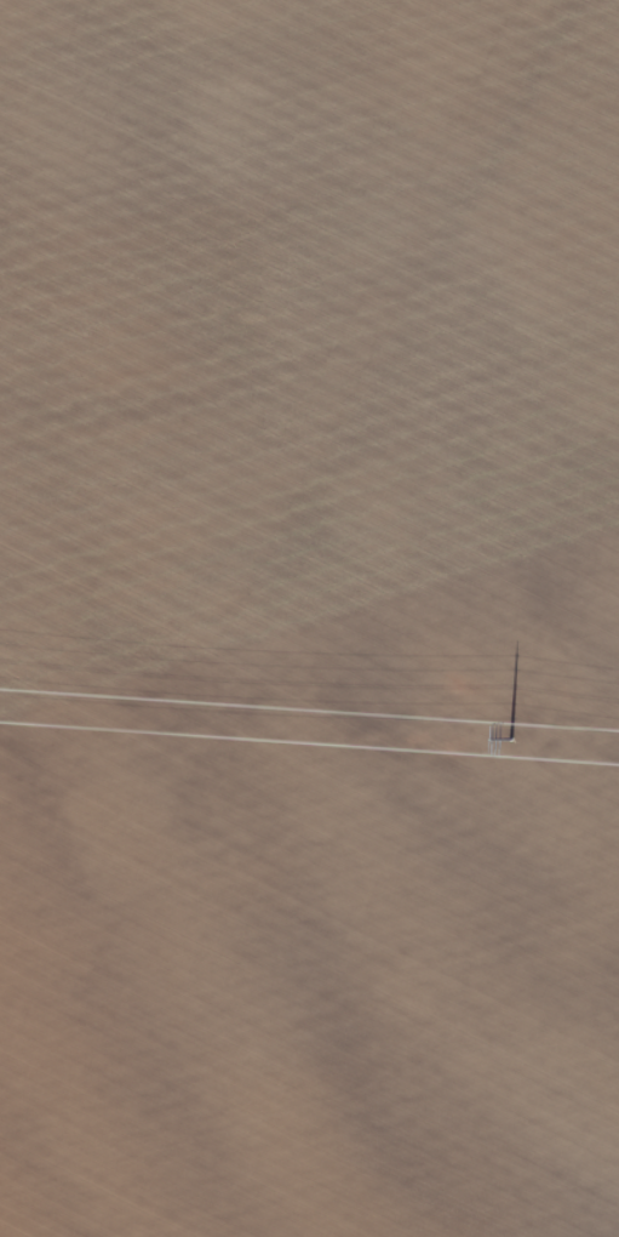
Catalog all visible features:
power tower: (514, 737)

